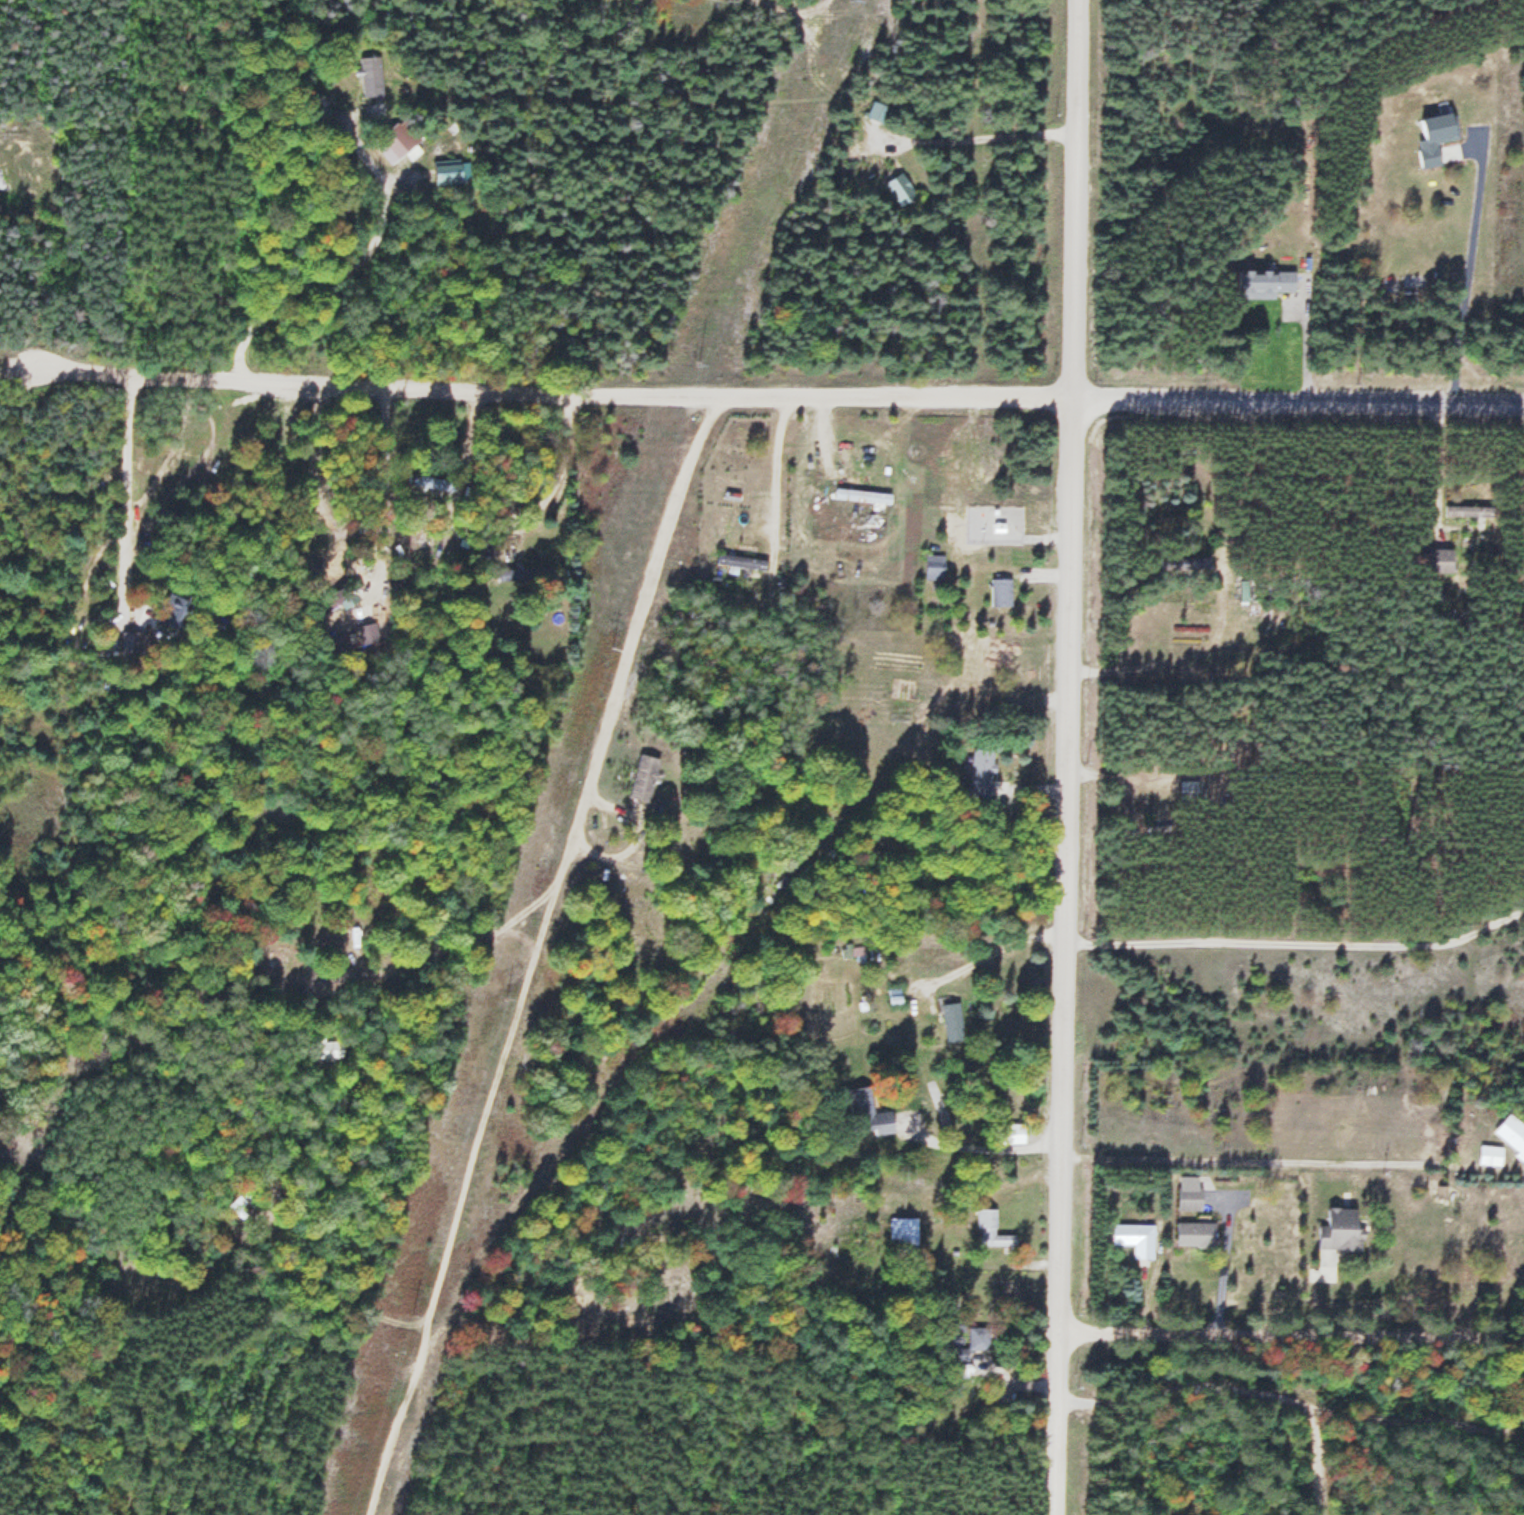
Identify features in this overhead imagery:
building: (371, 77)
building: (876, 112)
building: (1435, 138)
building: (396, 140)
building: (899, 189)
building: (1266, 284)
road: (537, 391)
road: (1299, 399)
building: (429, 483)
building: (919, 486)
building: (1471, 511)
building: (1440, 560)
building: (740, 562)
building: (1185, 563)
building: (934, 567)
building: (530, 576)
building: (1000, 592)
building: (337, 599)
building: (173, 611)
building: (367, 634)
road: (1067, 757)
building: (981, 773)
building: (643, 779)
building: (1188, 791)
road: (1296, 940)
road: (547, 957)
building: (952, 1021)
building: (327, 1050)
building: (868, 1112)
building: (1512, 1132)
building: (1490, 1155)
road: (1252, 1162)
building: (1189, 1198)
building: (241, 1206)
building: (1341, 1229)
building: (991, 1230)
building: (902, 1232)
building: (1196, 1234)
building: (1135, 1238)
road: (1291, 1333)
building: (977, 1338)
road: (1291, 1391)
road: (1307, 1449)

